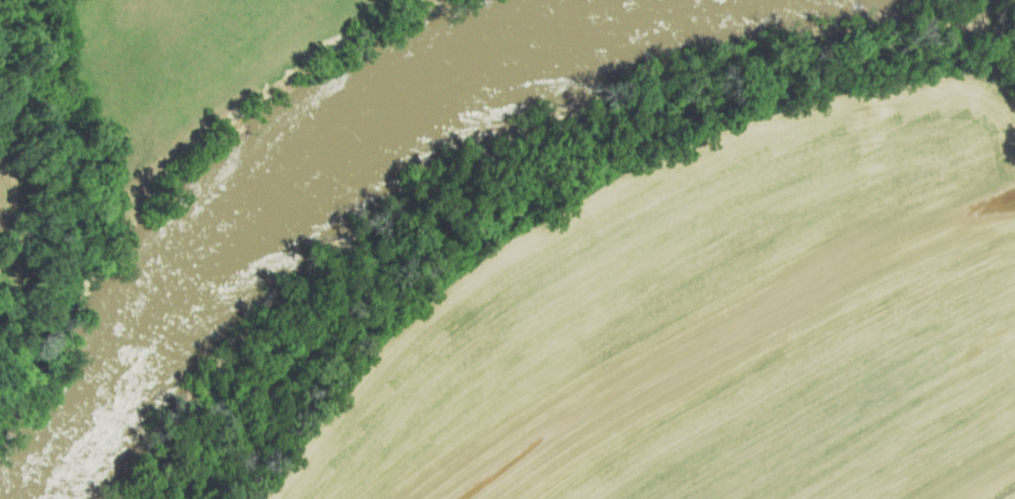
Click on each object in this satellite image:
road: (1001, 85)
river: (286, 194)

